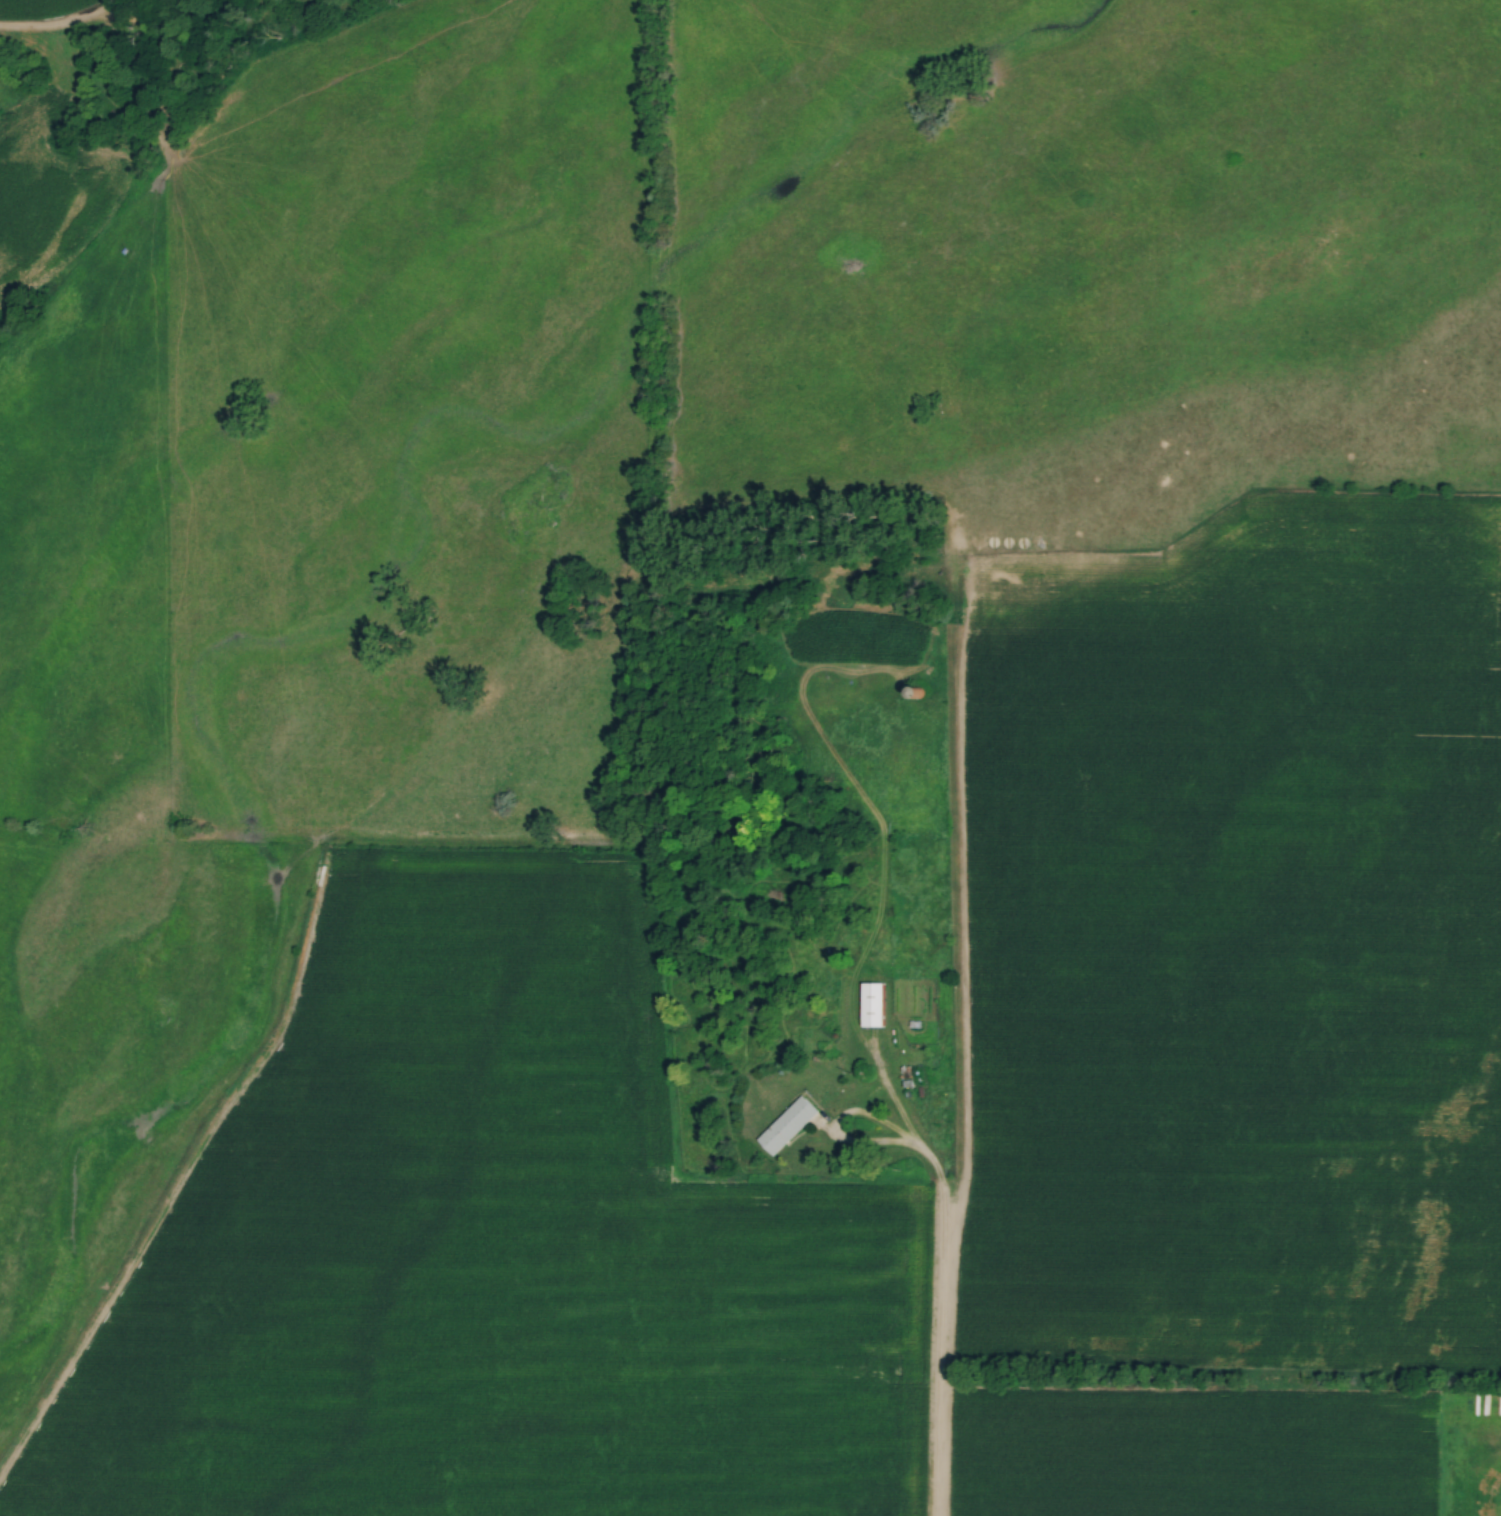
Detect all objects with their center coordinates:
building: (872, 1004)
road: (970, 1049)
building: (789, 1123)
road: (840, 1123)
road: (935, 1177)

